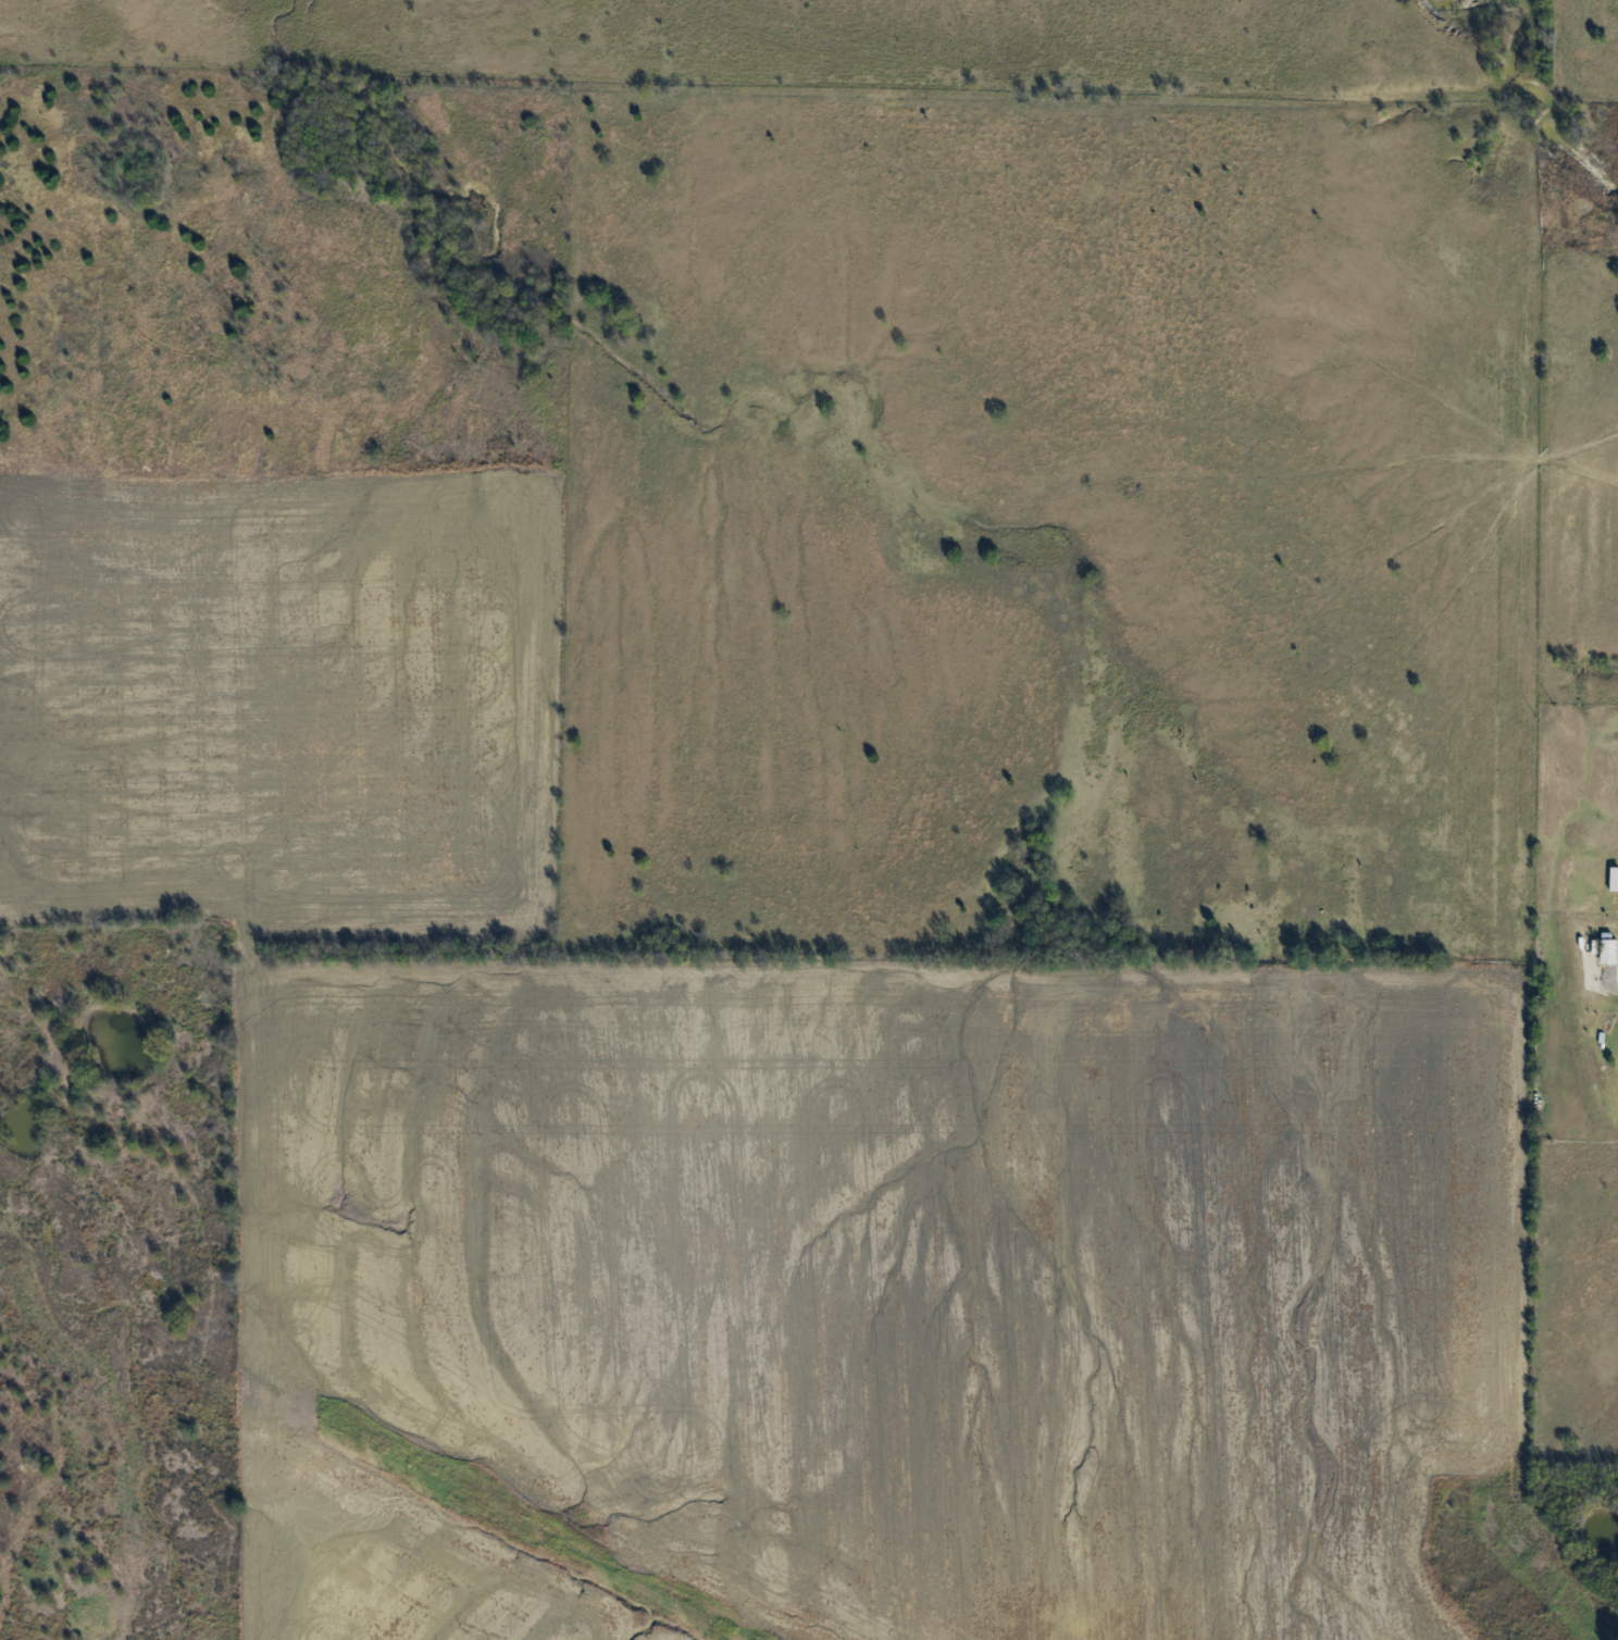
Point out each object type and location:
building: (1604, 951)

